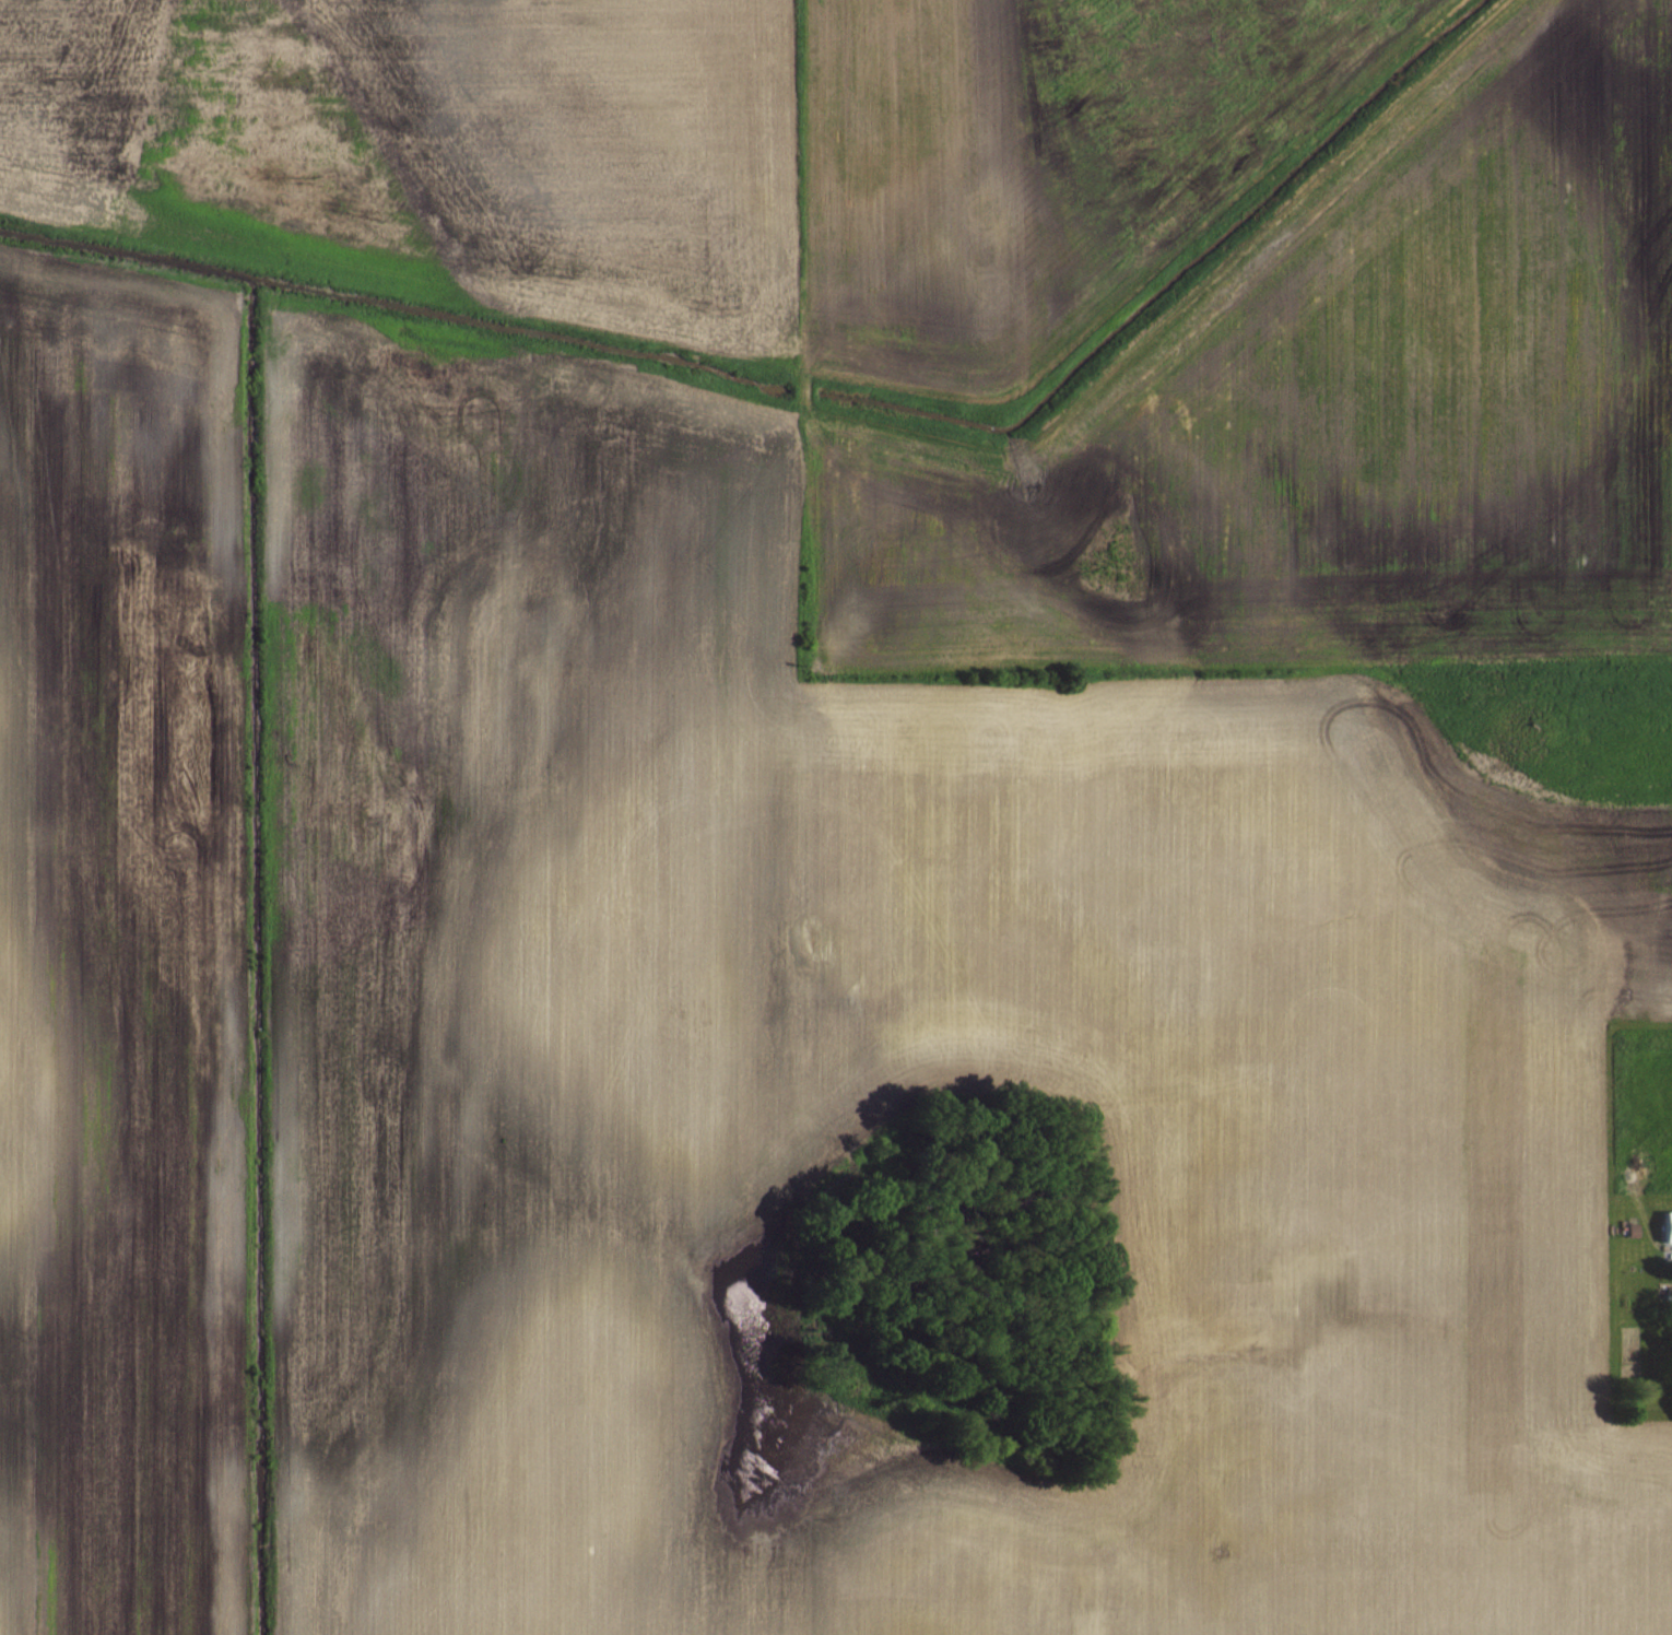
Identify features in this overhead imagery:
building: (1663, 1225)

